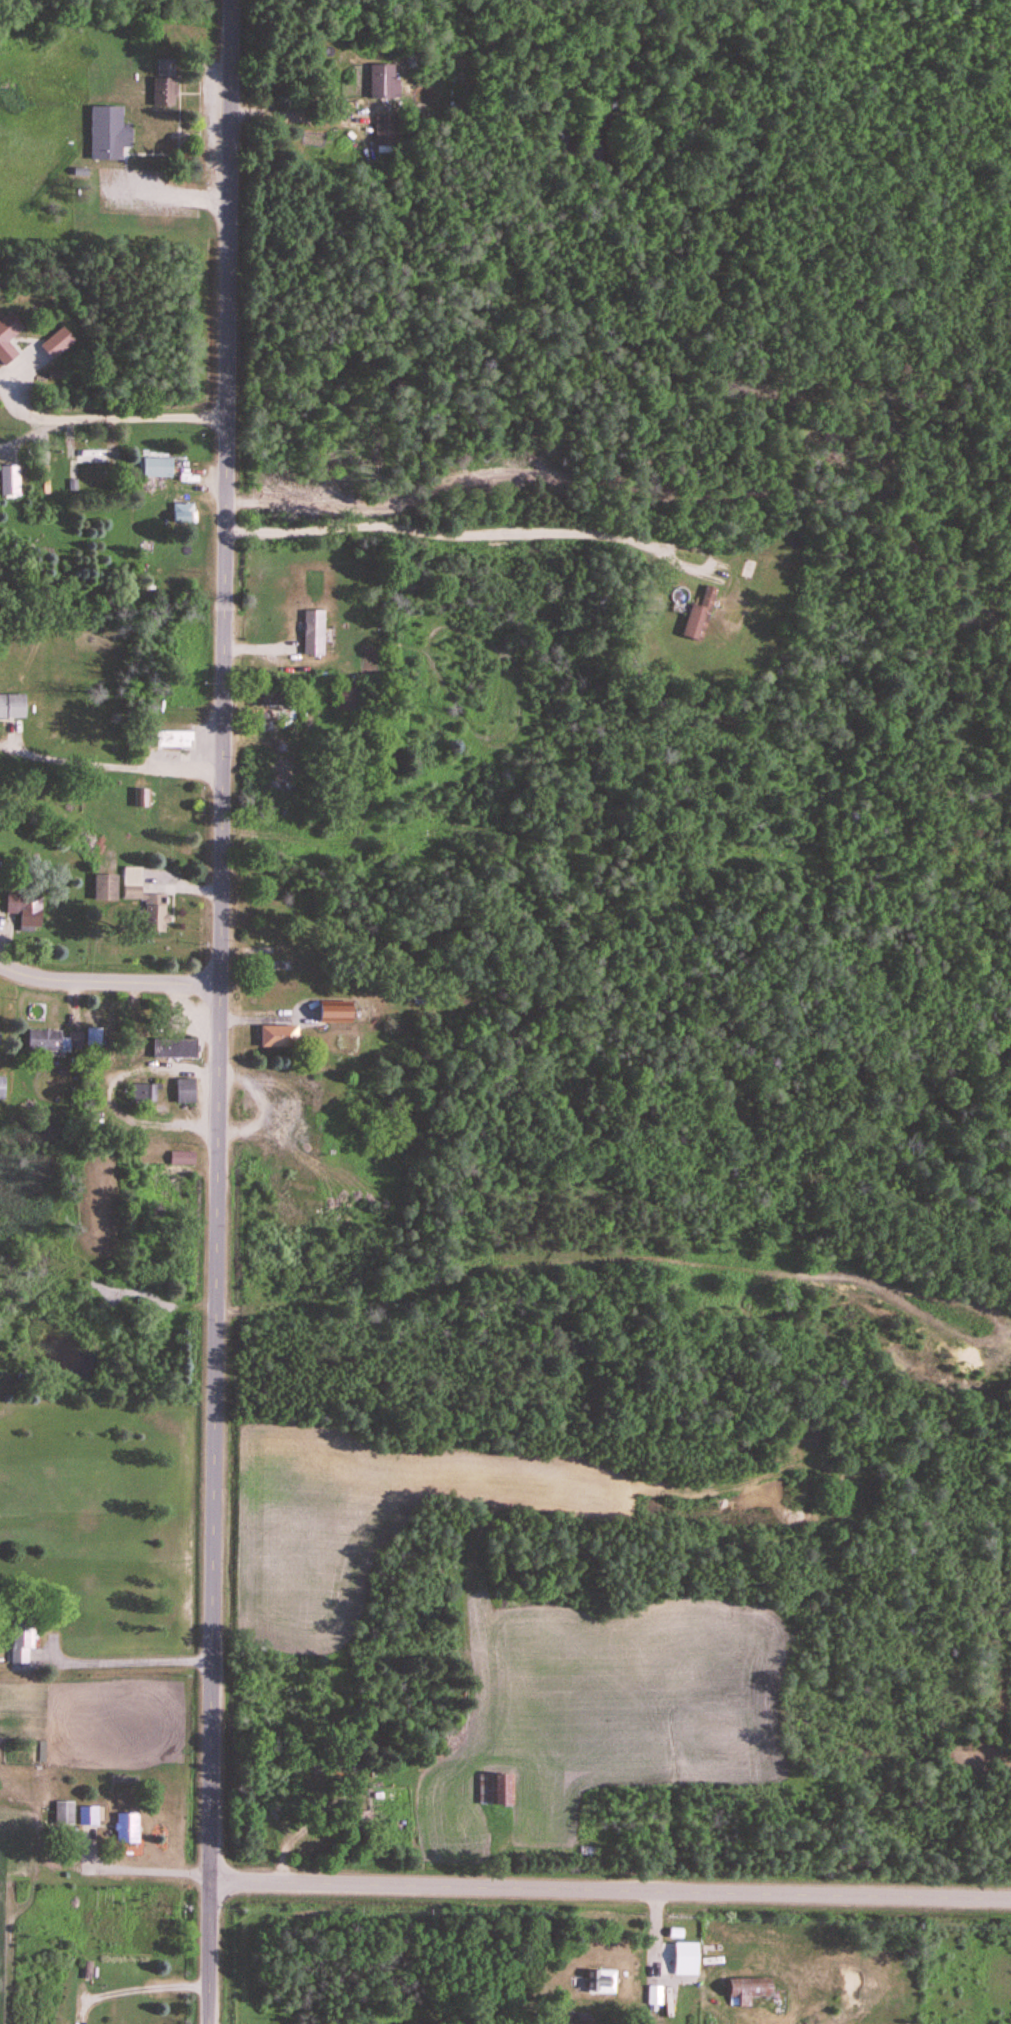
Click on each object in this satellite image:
building: (163, 83)
building: (382, 83)
road: (296, 120)
building: (385, 132)
building: (107, 134)
building: (7, 337)
building: (56, 343)
road: (89, 417)
road: (24, 433)
building: (155, 467)
road: (500, 534)
building: (698, 617)
building: (313, 633)
building: (346, 699)
building: (12, 707)
building: (276, 714)
building: (173, 739)
road: (167, 770)
building: (279, 784)
building: (141, 797)
building: (104, 887)
building: (144, 900)
building: (25, 910)
road: (107, 980)
road: (216, 1011)
building: (334, 1012)
building: (277, 1036)
building: (93, 1037)
building: (52, 1041)
building: (173, 1049)
building: (2, 1088)
building: (184, 1091)
building: (181, 1158)
road: (108, 1402)
building: (21, 1641)
building: (493, 1791)
building: (64, 1814)
building: (89, 1817)
building: (126, 1829)
road: (135, 1869)
road: (612, 1889)
building: (87, 1970)
building: (598, 1982)
road: (144, 1985)
building: (749, 1988)

